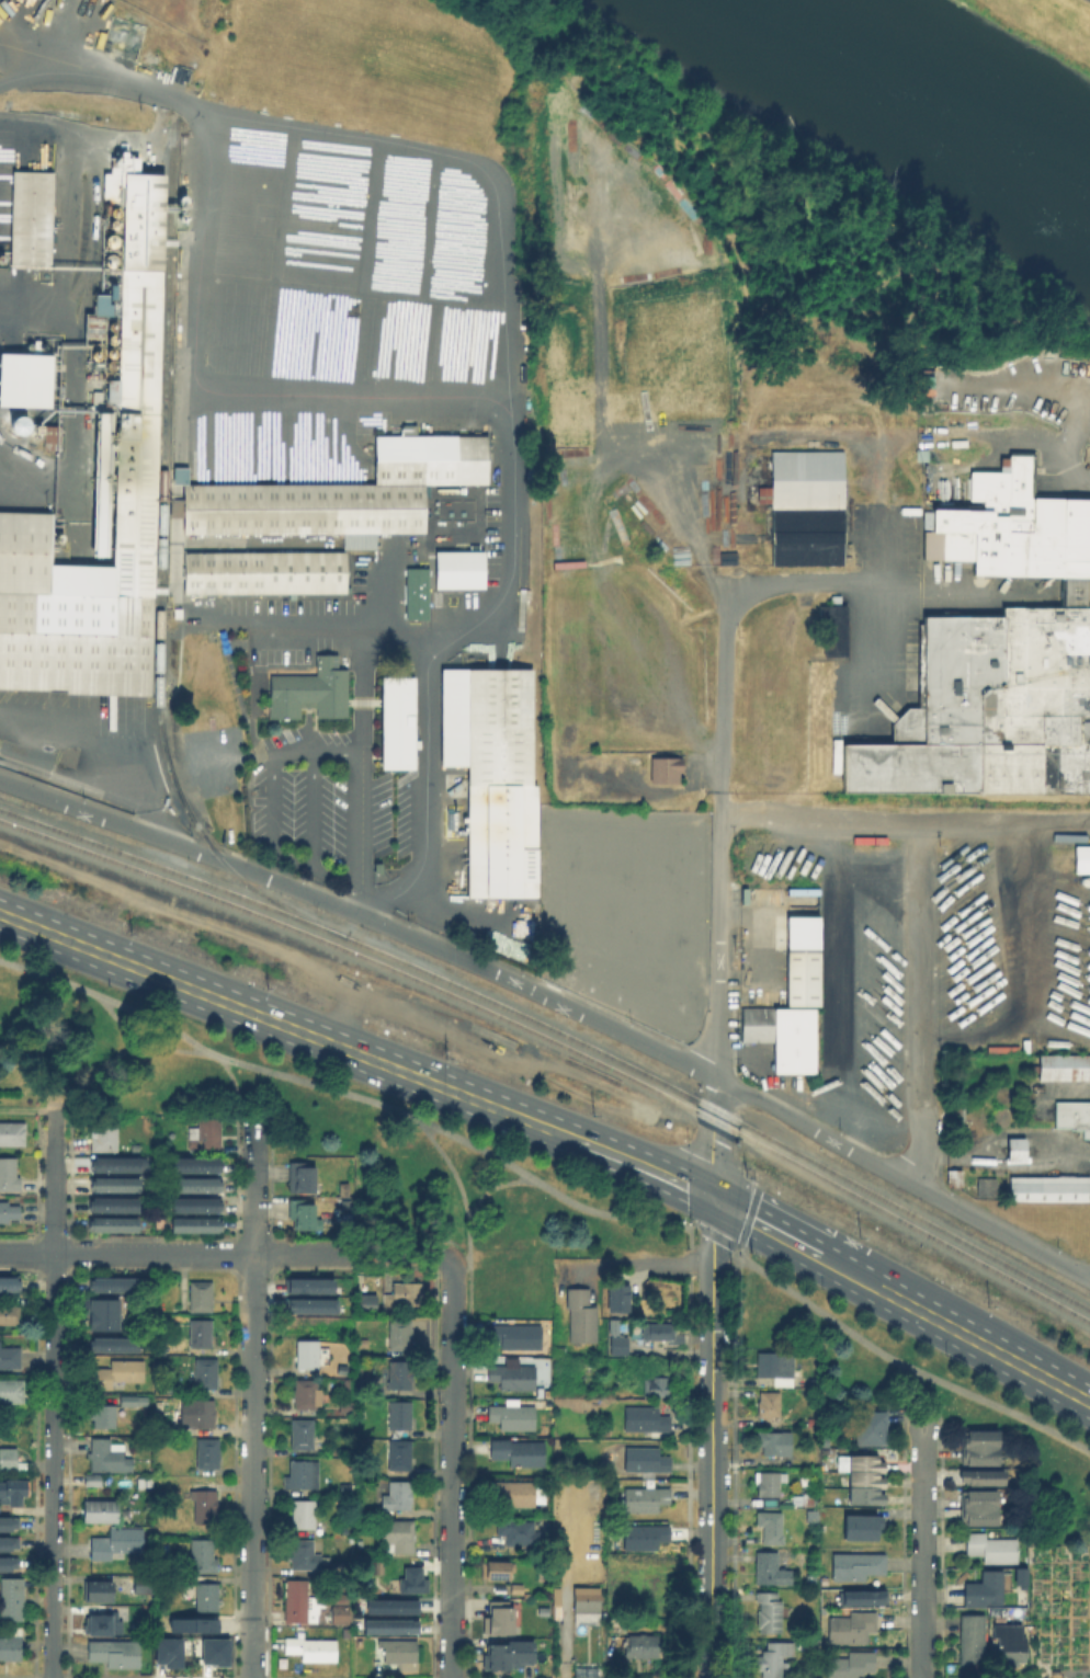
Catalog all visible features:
park: (1045, 24)
building: (27, 217)
building: (100, 303)
road: (496, 334)
building: (136, 340)
building: (24, 377)
road: (1065, 386)
road: (211, 389)
building: (16, 423)
building: (50, 436)
building: (100, 483)
building: (342, 490)
building: (806, 506)
building: (457, 568)
railway: (159, 569)
building: (263, 571)
road: (752, 585)
building: (416, 592)
road: (406, 627)
building: (832, 629)
road: (361, 641)
road: (872, 642)
building: (997, 657)
building: (307, 689)
building: (396, 720)
road: (299, 753)
road: (102, 754)
building: (666, 769)
building: (491, 773)
road: (315, 811)
road: (822, 821)
road: (1004, 825)
railway: (128, 853)
building: (1080, 858)
railway: (127, 864)
railway: (315, 949)
road: (47, 974)
road: (557, 1000)
road: (918, 1005)
road: (720, 1009)
road: (152, 1018)
building: (793, 1018)
road: (117, 1019)
road: (270, 1019)
road: (171, 1050)
building: (1065, 1070)
road: (93, 1074)
road: (311, 1083)
railway: (680, 1089)
road: (237, 1095)
railway: (679, 1100)
building: (958, 1114)
building: (1072, 1118)
building: (11, 1132)
building: (209, 1133)
building: (106, 1134)
road: (475, 1146)
building: (1018, 1150)
road: (627, 1160)
building: (114, 1163)
building: (194, 1164)
road: (451, 1166)
building: (10, 1175)
building: (955, 1177)
building: (304, 1178)
building: (115, 1184)
building: (194, 1184)
building: (987, 1187)
road: (491, 1188)
building: (344, 1190)
building: (1049, 1191)
traffic signals: (713, 1200)
building: (194, 1203)
building: (112, 1205)
building: (9, 1212)
road: (609, 1214)
building: (305, 1217)
building: (112, 1223)
building: (194, 1224)
road: (743, 1234)
road: (715, 1235)
road: (469, 1237)
road: (691, 1245)
road: (798, 1245)
road: (398, 1253)
road: (173, 1254)
road: (459, 1257)
road: (639, 1263)
building: (7, 1283)
building: (114, 1283)
building: (307, 1285)
building: (202, 1297)
building: (404, 1298)
building: (620, 1300)
building: (366, 1303)
building: (309, 1304)
building: (103, 1314)
building: (10, 1315)
building: (582, 1317)
building: (612, 1325)
building: (663, 1333)
building: (203, 1334)
building: (401, 1334)
building: (514, 1337)
building: (617, 1344)
building: (112, 1345)
road: (987, 1346)
building: (308, 1354)
building: (10, 1358)
road: (905, 1365)
building: (779, 1367)
building: (118, 1373)
building: (206, 1373)
building: (401, 1374)
building: (516, 1377)
building: (658, 1388)
building: (12, 1392)
road: (54, 1394)
building: (308, 1395)
road: (922, 1397)
road: (252, 1399)
building: (133, 1401)
building: (771, 1409)
building: (205, 1414)
building: (402, 1415)
building: (104, 1416)
building: (515, 1417)
building: (647, 1420)
building: (815, 1420)
building: (874, 1428)
building: (305, 1434)
road: (713, 1438)
building: (776, 1443)
building: (980, 1447)
building: (209, 1453)
building: (402, 1454)
building: (519, 1454)
building: (110, 1457)
building: (816, 1457)
building: (9, 1459)
building: (647, 1459)
road: (452, 1468)
building: (304, 1476)
building: (981, 1479)
building: (93, 1481)
building: (868, 1482)
building: (348, 1489)
building: (771, 1489)
building: (14, 1492)
building: (514, 1494)
building: (398, 1495)
building: (804, 1499)
building: (647, 1500)
building: (207, 1506)
building: (979, 1509)
building: (102, 1511)
building: (305, 1515)
building: (4, 1522)
building: (773, 1527)
building: (866, 1528)
building: (520, 1533)
building: (647, 1536)
building: (401, 1537)
building: (3, 1542)
building: (118, 1543)
building: (990, 1546)
road: (922, 1552)
building: (204, 1556)
building: (307, 1556)
building: (3, 1562)
building: (859, 1567)
building: (379, 1569)
building: (772, 1569)
building: (501, 1572)
building: (1018, 1577)
building: (412, 1582)
building: (145, 1583)
building: (983, 1588)
building: (100, 1593)
building: (208, 1598)
building: (865, 1598)
building: (12, 1600)
building: (588, 1600)
building: (302, 1605)
building: (390, 1606)
building: (145, 1610)
building: (545, 1612)
building: (771, 1612)
building: (343, 1614)
building: (502, 1618)
building: (192, 1624)
building: (388, 1624)
building: (103, 1626)
building: (854, 1626)
building: (970, 1637)
building: (1014, 1643)
building: (11, 1645)
building: (644, 1646)
building: (213, 1650)
building: (314, 1650)
building: (166, 1651)
building: (401, 1651)
building: (506, 1653)
building: (116, 1654)
building: (776, 1658)
building: (853, 1665)

